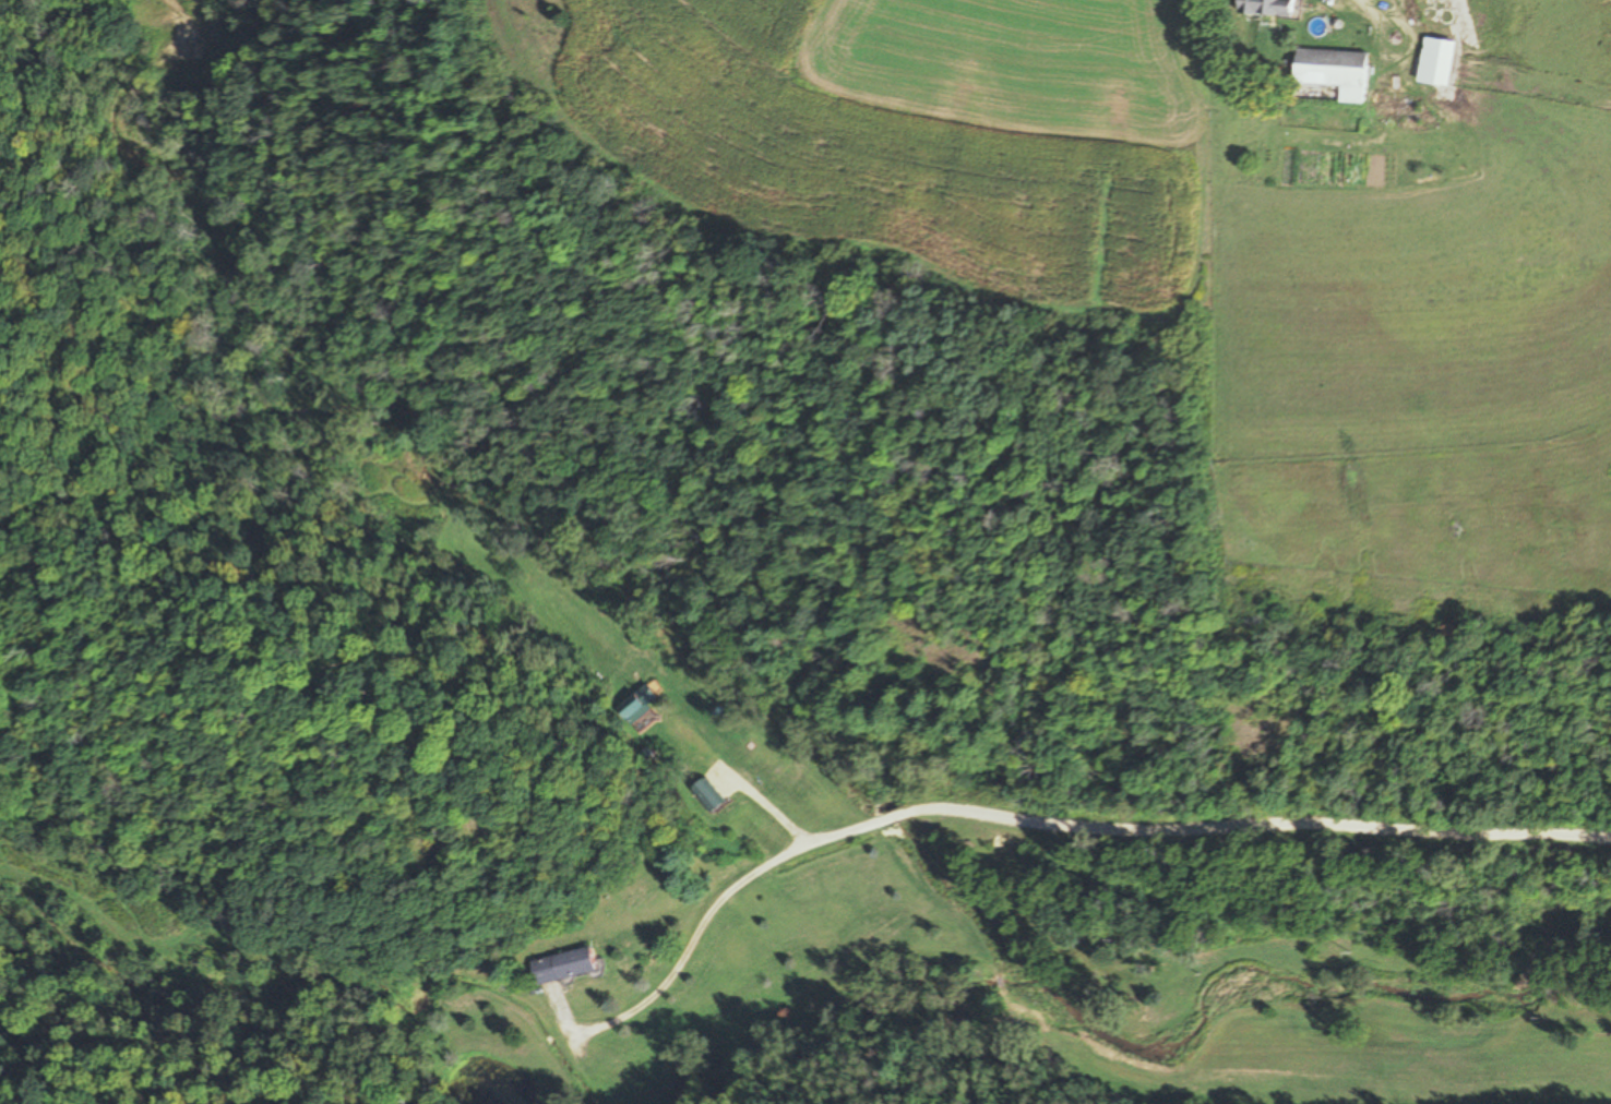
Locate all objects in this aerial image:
building: (1265, 9)
road: (1379, 34)
building: (1433, 63)
building: (1328, 75)
building: (636, 707)
road: (757, 785)
building: (702, 794)
road: (1194, 818)
road: (677, 959)
building: (560, 965)

